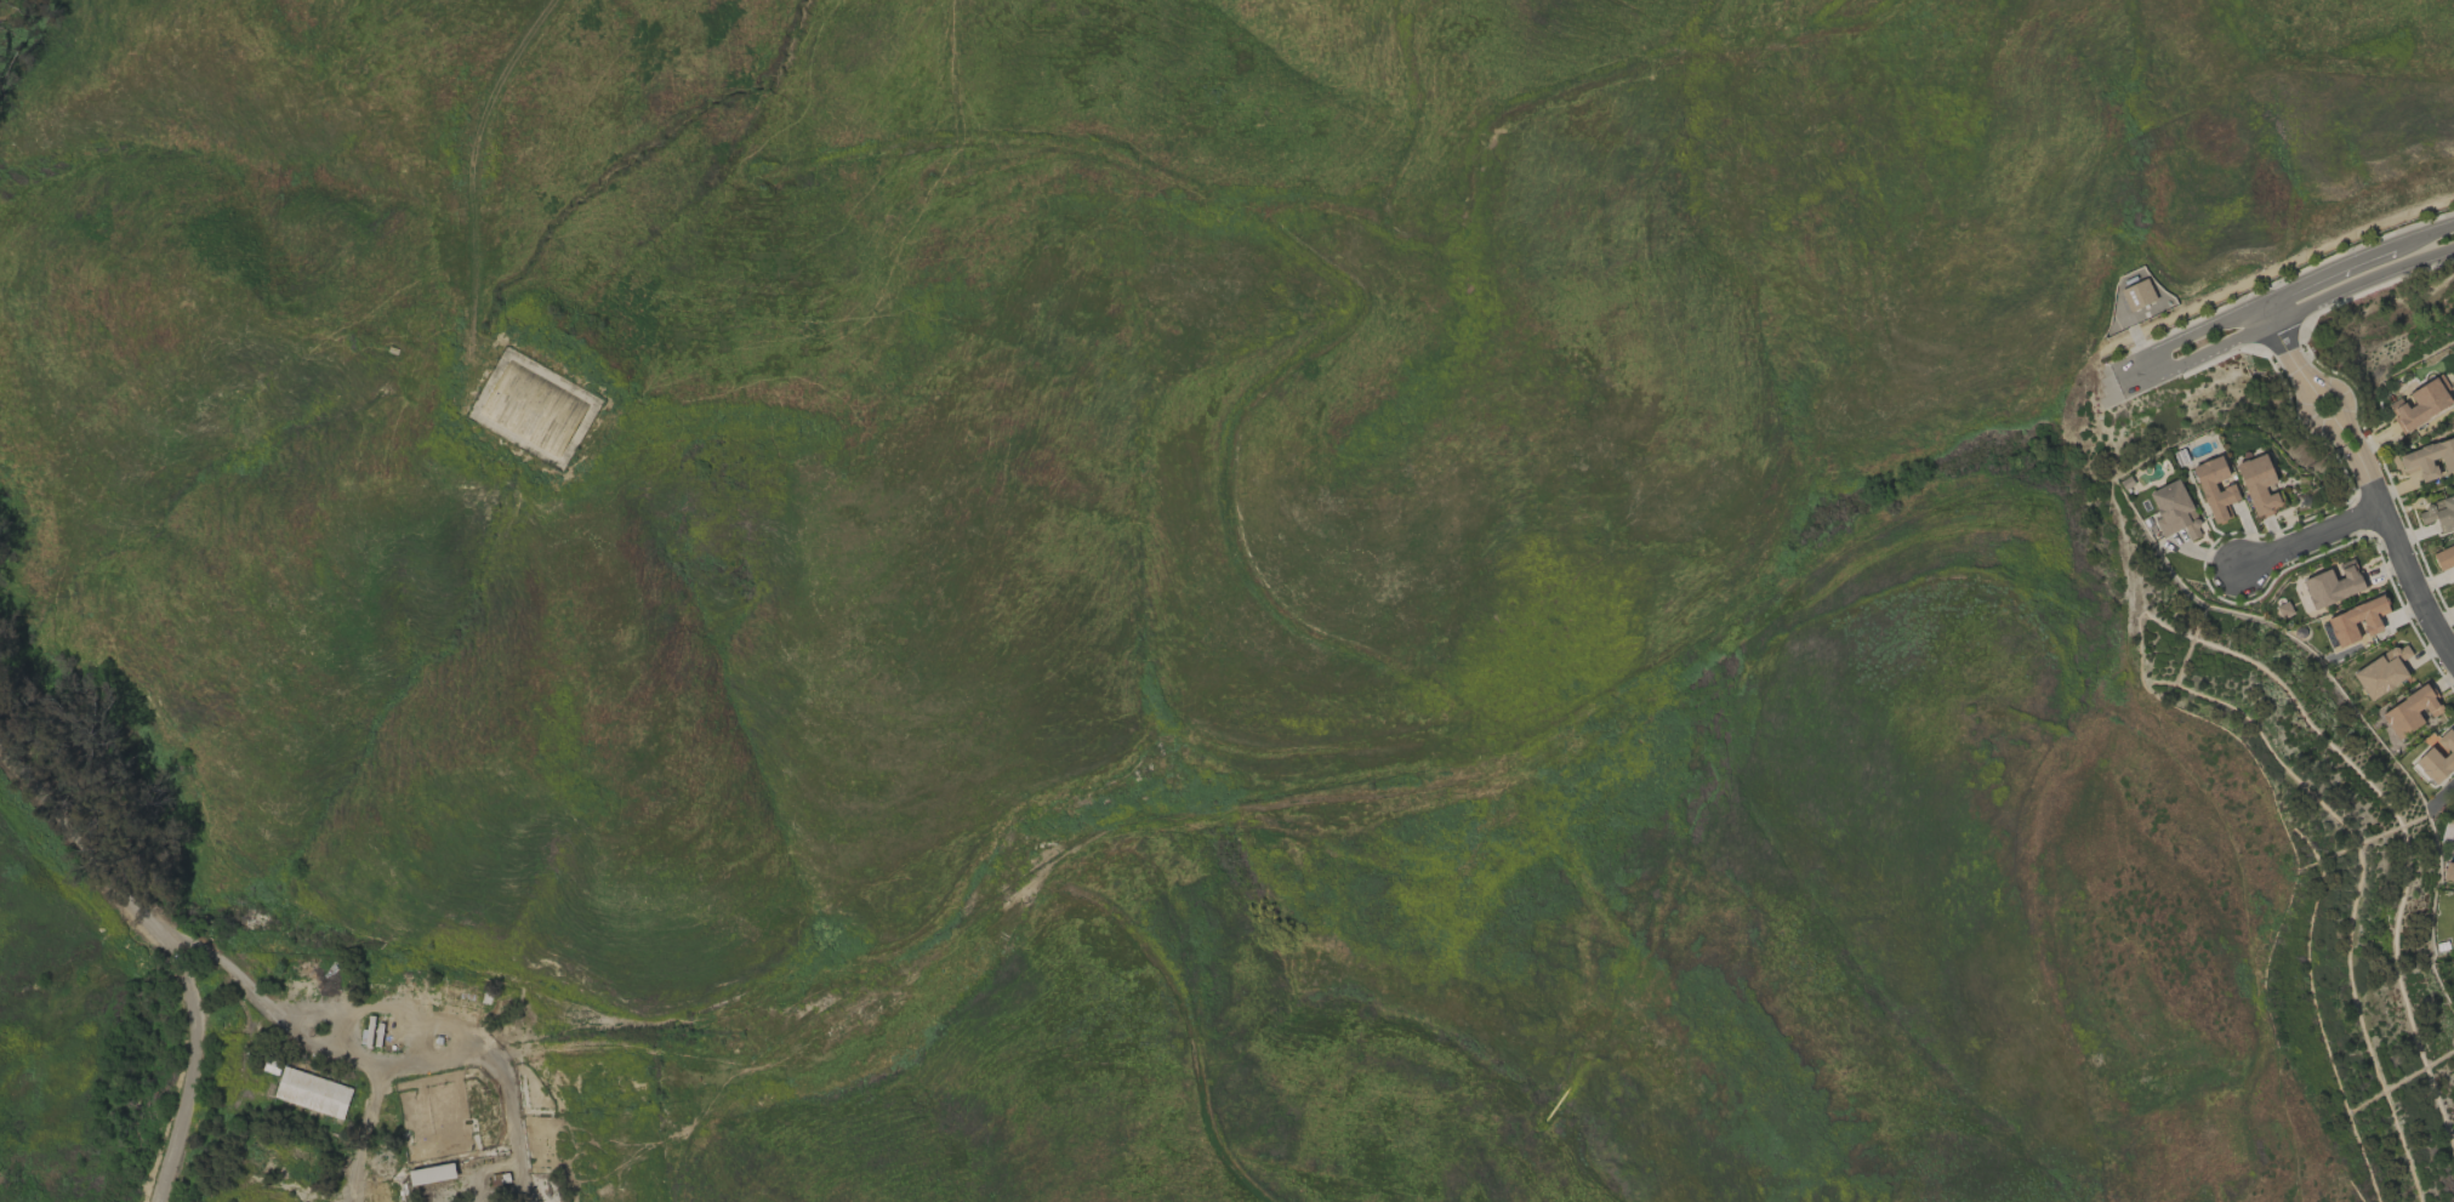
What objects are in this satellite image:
road: (2274, 267)
building: (2136, 294)
road: (2274, 297)
road: (2289, 313)
road: (2131, 330)
road: (2282, 351)
building: (2420, 403)
road: (2313, 423)
road: (2350, 426)
road: (2336, 437)
road: (2361, 449)
road: (2350, 455)
building: (2429, 460)
building: (2257, 484)
building: (2214, 488)
building: (2174, 511)
building: (2438, 514)
road: (2310, 539)
building: (2444, 557)
road: (2403, 560)
building: (2333, 583)
building: (2283, 609)
building: (2356, 620)
building: (2382, 672)
building: (2410, 711)
building: (2437, 759)
building: (2448, 871)
road: (164, 949)
road: (414, 1069)
building: (312, 1092)
building: (431, 1173)

